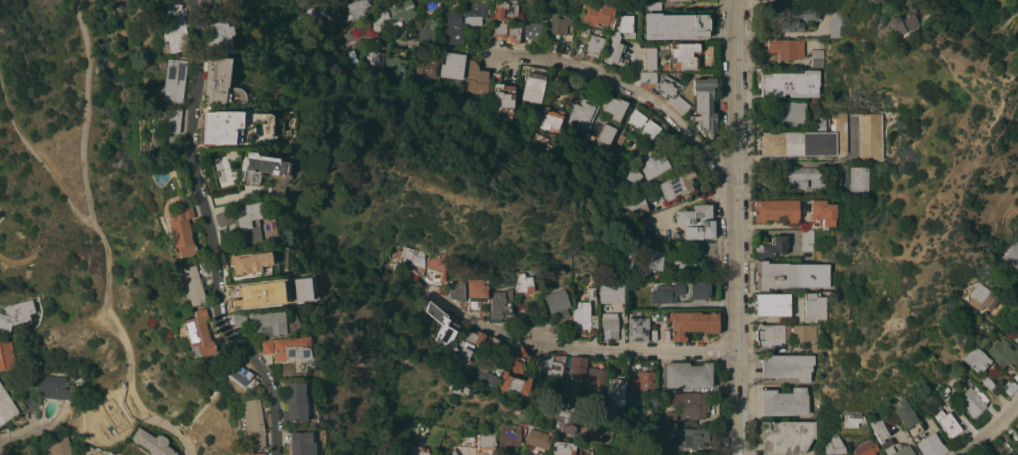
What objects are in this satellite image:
building: (155, 0)
building: (668, 0)
building: (680, 0)
road: (194, 4)
building: (217, 4)
building: (653, 5)
building: (357, 9)
building: (505, 9)
building: (395, 12)
building: (475, 12)
building: (320, 14)
building: (596, 14)
building: (794, 18)
building: (835, 21)
building: (624, 23)
building: (898, 23)
building: (363, 24)
building: (561, 25)
building: (169, 26)
building: (675, 26)
building: (453, 27)
building: (500, 29)
building: (427, 30)
building: (399, 31)
building: (533, 31)
building: (216, 36)
road: (417, 43)
building: (594, 45)
building: (786, 47)
building: (614, 48)
building: (683, 55)
building: (374, 57)
building: (817, 57)
building: (650, 58)
building: (453, 65)
building: (665, 66)
building: (400, 68)
building: (426, 68)
building: (497, 75)
building: (648, 77)
building: (475, 78)
building: (170, 81)
building: (214, 81)
building: (790, 83)
building: (533, 84)
building: (668, 86)
road: (628, 87)
building: (503, 93)
building: (679, 104)
building: (703, 106)
building: (614, 107)
building: (791, 112)
building: (582, 113)
building: (170, 119)
building: (550, 119)
building: (643, 123)
building: (819, 123)
building: (233, 128)
building: (870, 136)
building: (605, 138)
building: (806, 141)
road: (35, 152)
building: (218, 165)
building: (654, 166)
road: (809, 166)
building: (260, 168)
building: (631, 176)
building: (805, 177)
building: (859, 179)
building: (677, 183)
building: (636, 206)
building: (776, 210)
road: (91, 211)
building: (823, 212)
building: (243, 221)
building: (696, 222)
building: (178, 227)
road: (733, 227)
road: (209, 236)
building: (807, 239)
building: (772, 247)
building: (1012, 255)
building: (625, 258)
building: (412, 259)
building: (655, 260)
building: (681, 262)
building: (247, 263)
building: (435, 269)
building: (789, 275)
building: (524, 283)
building: (191, 285)
building: (699, 289)
building: (456, 291)
building: (611, 292)
building: (475, 293)
building: (592, 293)
building: (667, 293)
building: (247, 294)
building: (980, 296)
building: (500, 304)
building: (557, 304)
building: (771, 304)
building: (814, 306)
building: (15, 314)
building: (583, 317)
building: (238, 318)
road: (475, 320)
building: (267, 322)
building: (688, 322)
building: (608, 325)
building: (441, 327)
building: (637, 328)
building: (805, 333)
building: (198, 334)
building: (653, 334)
building: (665, 334)
building: (772, 334)
building: (1015, 334)
building: (982, 342)
building: (815, 346)
building: (264, 347)
building: (463, 347)
building: (290, 348)
building: (494, 349)
road: (636, 349)
building: (1003, 353)
building: (6, 355)
building: (515, 359)
building: (976, 359)
building: (787, 367)
building: (550, 369)
building: (236, 370)
building: (586, 372)
building: (283, 373)
building: (687, 374)
building: (483, 375)
building: (1016, 376)
building: (641, 380)
building: (512, 383)
building: (988, 383)
building: (1010, 386)
building: (53, 387)
building: (454, 388)
building: (615, 391)
building: (940, 392)
building: (973, 401)
building: (293, 402)
building: (784, 402)
building: (932, 403)
building: (32, 404)
building: (689, 404)
building: (6, 406)
building: (905, 412)
building: (669, 418)
building: (851, 419)
building: (946, 419)
building: (560, 421)
building: (252, 422)
road: (171, 426)
building: (878, 429)
building: (594, 431)
road: (988, 431)
building: (508, 435)
building: (786, 437)
building: (690, 438)
building: (536, 439)
building: (467, 441)
building: (152, 442)
building: (486, 442)
building: (301, 444)
building: (930, 445)
building: (57, 446)
building: (833, 446)
building: (561, 448)
building: (865, 448)
building: (418, 450)
building: (899, 451)
building: (250, 453)
building: (90, 454)
building: (92, 454)
building: (437, 454)
building: (1013, 454)

